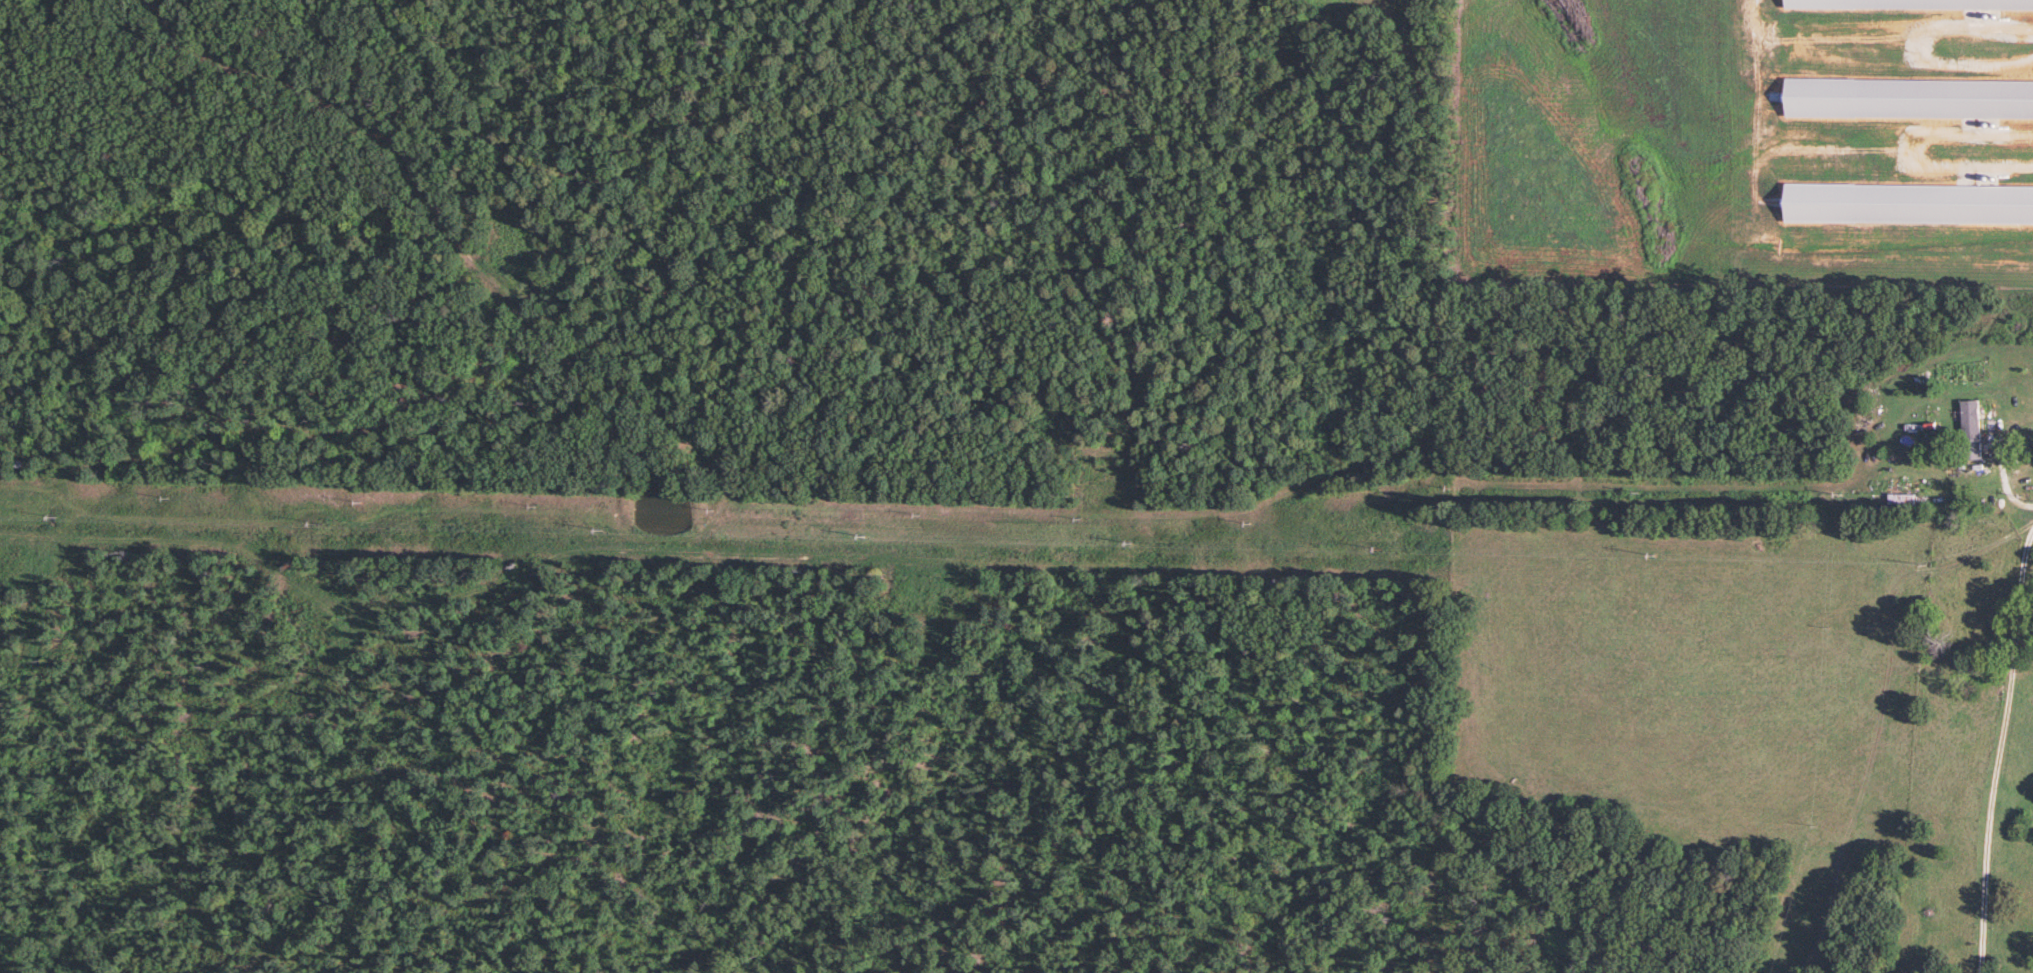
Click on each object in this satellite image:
building: (1967, 432)
road: (1996, 487)
building: (1899, 501)
building: (1958, 619)
road: (2001, 759)

